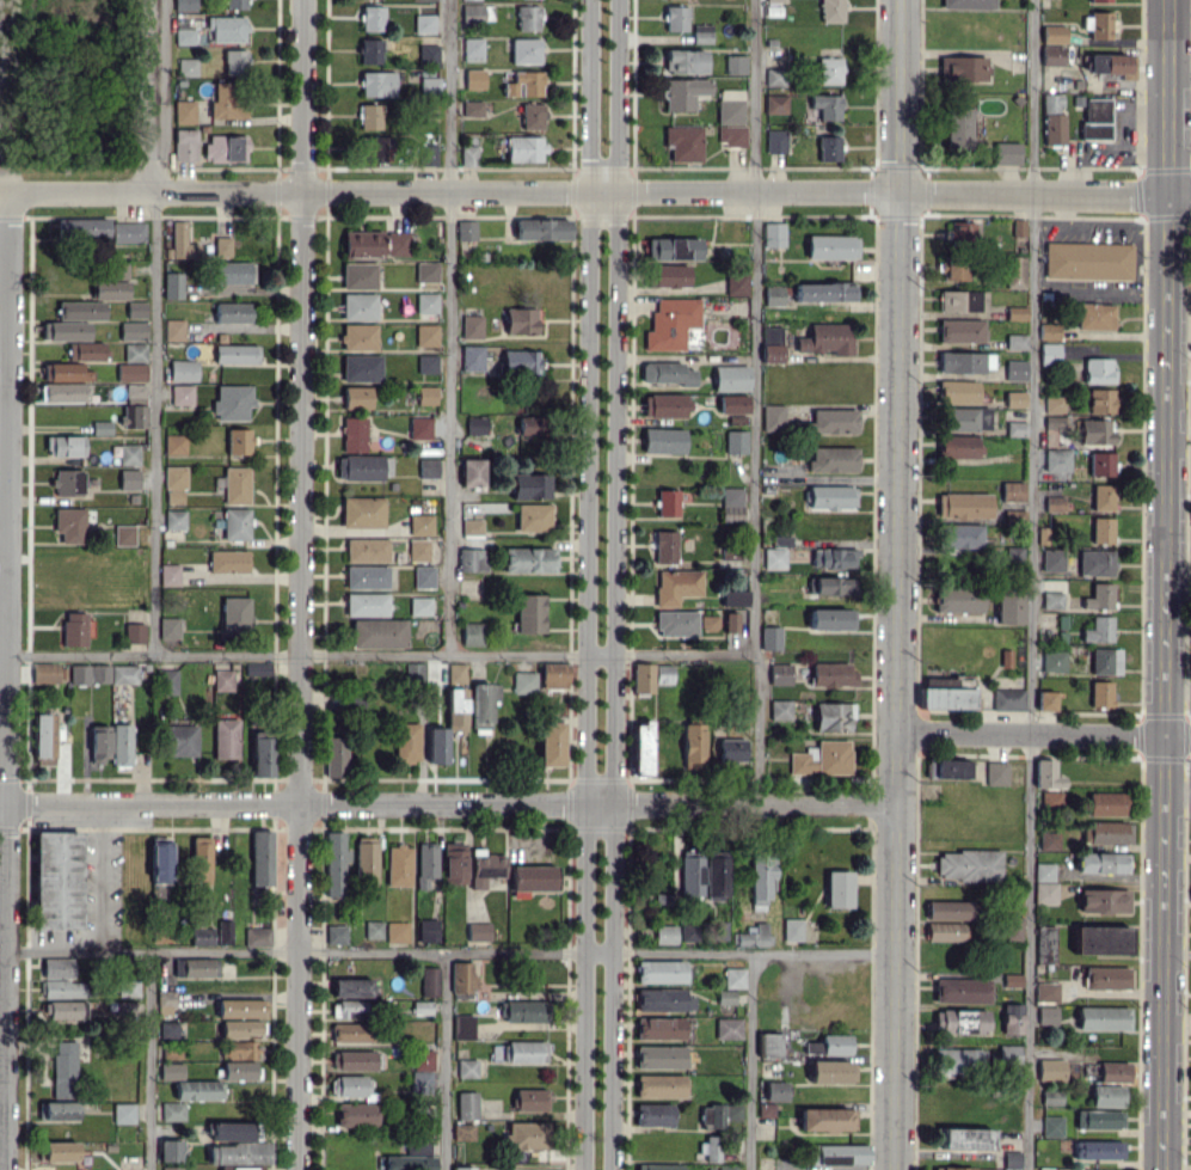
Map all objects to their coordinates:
building: (669, 0)
building: (775, 0)
building: (1100, 0)
building: (968, 4)
building: (234, 5)
building: (184, 6)
building: (831, 11)
building: (472, 12)
building: (370, 17)
building: (527, 18)
building: (675, 18)
building: (424, 23)
building: (1099, 25)
building: (227, 30)
building: (1052, 35)
building: (184, 36)
building: (701, 36)
building: (472, 49)
building: (369, 50)
building: (524, 50)
building: (428, 54)
building: (1051, 56)
building: (234, 61)
building: (684, 61)
building: (735, 65)
building: (1103, 65)
road: (1179, 65)
building: (951, 69)
building: (829, 71)
building: (377, 82)
building: (526, 82)
building: (684, 93)
building: (732, 93)
road: (165, 97)
road: (148, 98)
building: (226, 102)
building: (775, 104)
building: (825, 106)
building: (472, 108)
building: (730, 111)
building: (184, 112)
building: (532, 115)
building: (369, 117)
building: (1094, 118)
building: (958, 128)
building: (1052, 128)
building: (731, 135)
building: (775, 142)
building: (683, 143)
building: (184, 145)
building: (828, 148)
building: (523, 149)
road: (595, 198)
building: (533, 231)
building: (959, 232)
building: (773, 234)
building: (182, 241)
building: (376, 243)
building: (831, 247)
building: (673, 249)
building: (1087, 261)
building: (951, 269)
building: (1014, 271)
building: (426, 272)
building: (358, 275)
building: (670, 276)
building: (172, 284)
building: (737, 284)
building: (110, 289)
building: (822, 294)
building: (773, 295)
building: (957, 301)
building: (426, 304)
building: (358, 306)
building: (80, 310)
building: (232, 313)
building: (1094, 316)
building: (520, 320)
building: (670, 324)
road: (455, 326)
building: (472, 326)
building: (68, 330)
building: (960, 331)
building: (425, 336)
building: (358, 337)
building: (810, 341)
building: (1015, 342)
building: (88, 350)
building: (235, 355)
building: (472, 359)
building: (521, 361)
building: (133, 363)
building: (426, 365)
building: (960, 365)
building: (361, 367)
building: (67, 370)
building: (183, 370)
building: (1014, 370)
building: (667, 374)
building: (65, 393)
building: (957, 393)
building: (182, 394)
building: (426, 394)
building: (356, 397)
building: (1013, 399)
road: (763, 402)
building: (1101, 402)
building: (232, 403)
building: (732, 404)
building: (1054, 404)
building: (664, 408)
building: (129, 417)
building: (773, 417)
building: (964, 419)
building: (830, 422)
road: (155, 424)
building: (100, 427)
building: (419, 428)
building: (529, 428)
building: (1054, 428)
building: (1094, 433)
building: (354, 435)
building: (238, 441)
building: (663, 442)
building: (174, 445)
building: (67, 447)
building: (958, 447)
building: (129, 454)
building: (830, 460)
building: (1056, 460)
building: (1100, 465)
building: (428, 467)
building: (362, 468)
building: (472, 473)
building: (128, 479)
building: (67, 484)
building: (174, 485)
building: (235, 485)
building: (529, 485)
building: (830, 497)
building: (1103, 497)
building: (667, 504)
building: (966, 504)
building: (1054, 504)
building: (362, 513)
building: (533, 517)
building: (174, 519)
building: (69, 523)
building: (235, 525)
building: (420, 525)
building: (472, 526)
building: (1101, 529)
building: (963, 535)
building: (781, 541)
building: (367, 549)
building: (664, 549)
building: (418, 550)
building: (774, 558)
building: (830, 559)
building: (472, 561)
building: (1052, 561)
building: (227, 562)
building: (528, 562)
building: (1095, 562)
building: (366, 576)
building: (423, 576)
road: (299, 584)
road: (582, 584)
road: (620, 584)
road: (895, 584)
road: (1031, 584)
road: (1162, 584)
building: (676, 586)
building: (829, 587)
building: (1099, 596)
building: (733, 598)
building: (958, 600)
building: (1052, 600)
building: (366, 604)
building: (419, 606)
building: (1009, 607)
building: (529, 613)
building: (234, 614)
building: (831, 618)
building: (731, 621)
building: (676, 623)
building: (708, 623)
building: (168, 627)
building: (74, 629)
building: (1098, 629)
building: (134, 632)
building: (379, 633)
building: (472, 633)
building: (771, 637)
road: (690, 654)
road: (293, 655)
building: (1006, 657)
building: (1054, 661)
building: (1105, 661)
building: (45, 672)
building: (103, 673)
building: (663, 673)
building: (780, 673)
building: (456, 674)
building: (553, 674)
building: (831, 674)
building: (643, 676)
building: (223, 679)
road: (5, 681)
building: (167, 681)
building: (523, 681)
building: (950, 682)
building: (1101, 693)
building: (946, 697)
building: (1007, 698)
building: (1045, 699)
building: (483, 703)
building: (456, 709)
building: (780, 709)
building: (833, 716)
road: (1043, 734)
building: (225, 737)
building: (44, 739)
building: (179, 740)
building: (99, 742)
building: (406, 742)
building: (121, 743)
building: (551, 743)
building: (436, 745)
building: (693, 745)
building: (640, 747)
building: (731, 749)
building: (262, 756)
building: (336, 756)
building: (822, 758)
building: (947, 768)
building: (996, 773)
building: (1046, 774)
building: (1051, 798)
building: (1106, 803)
road: (447, 804)
building: (1106, 832)
building: (1049, 840)
building: (260, 857)
building: (160, 859)
building: (199, 859)
building: (366, 860)
building: (1103, 862)
building: (425, 863)
building: (454, 863)
building: (334, 864)
building: (969, 864)
building: (399, 865)
building: (485, 868)
building: (1044, 871)
building: (690, 876)
road: (99, 877)
building: (532, 877)
building: (717, 877)
building: (57, 880)
building: (761, 880)
building: (837, 888)
building: (1045, 893)
building: (1104, 901)
building: (948, 909)
building: (1013, 927)
building: (373, 929)
building: (792, 929)
building: (428, 930)
building: (223, 931)
building: (478, 931)
building: (688, 931)
building: (945, 931)
building: (397, 932)
building: (336, 933)
building: (665, 933)
building: (202, 936)
building: (257, 936)
building: (751, 936)
building: (1101, 939)
building: (1044, 944)
road: (289, 951)
road: (756, 954)
building: (56, 967)
building: (195, 967)
building: (661, 970)
building: (461, 976)
building: (1106, 976)
building: (733, 978)
building: (1012, 979)
building: (429, 981)
building: (351, 987)
building: (63, 988)
building: (962, 991)
building: (1045, 991)
building: (726, 997)
building: (663, 999)
building: (165, 1001)
building: (240, 1007)
building: (346, 1009)
building: (63, 1010)
building: (524, 1011)
building: (1046, 1015)
building: (1103, 1017)
building: (1012, 1018)
building: (960, 1021)
building: (462, 1027)
building: (241, 1028)
building: (659, 1028)
building: (729, 1028)
building: (168, 1029)
building: (351, 1031)
building: (835, 1043)
building: (769, 1045)
building: (240, 1049)
building: (518, 1052)
building: (659, 1056)
building: (423, 1059)
building: (1009, 1059)
road: (151, 1060)
building: (352, 1060)
road: (446, 1060)
road: (754, 1061)
building: (958, 1062)
building: (467, 1067)
building: (63, 1068)
building: (1050, 1068)
building: (171, 1070)
building: (239, 1070)
building: (829, 1071)
building: (1113, 1071)
building: (420, 1082)
building: (349, 1085)
building: (659, 1085)
building: (197, 1090)
building: (776, 1090)
building: (1107, 1095)
building: (1051, 1097)
building: (530, 1099)
building: (466, 1104)
building: (766, 1109)
building: (57, 1110)
building: (172, 1110)
building: (123, 1113)
building: (356, 1114)
building: (653, 1114)
building: (718, 1115)
building: (827, 1119)
building: (1099, 1119)
building: (1052, 1126)
building: (233, 1131)
building: (462, 1131)
building: (527, 1134)
building: (966, 1138)
building: (710, 1148)
building: (1098, 1148)
building: (57, 1150)
building: (168, 1150)
building: (239, 1152)
building: (837, 1153)
building: (1012, 1159)
building: (407, 1162)
building: (658, 1166)
building: (728, 1166)
building: (172, 1168)
building: (241, 1168)
building: (461, 1168)
building: (968, 1168)

